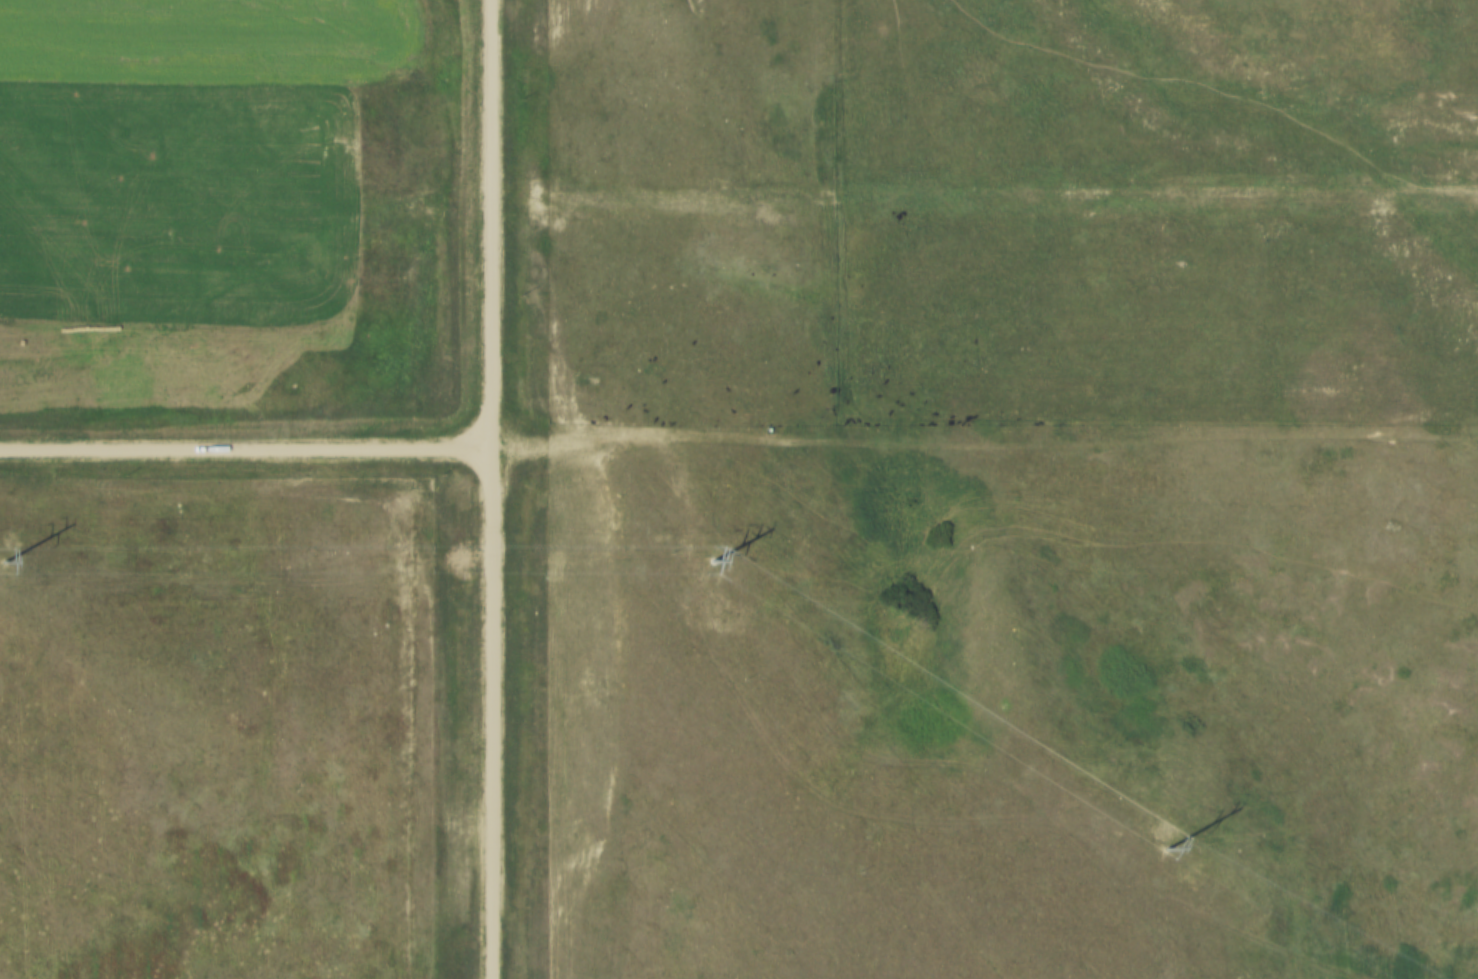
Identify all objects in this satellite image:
road: (488, 226)
road: (245, 452)
power tower: (4, 557)
power tower: (710, 559)
road: (493, 715)
power tower: (1170, 845)

